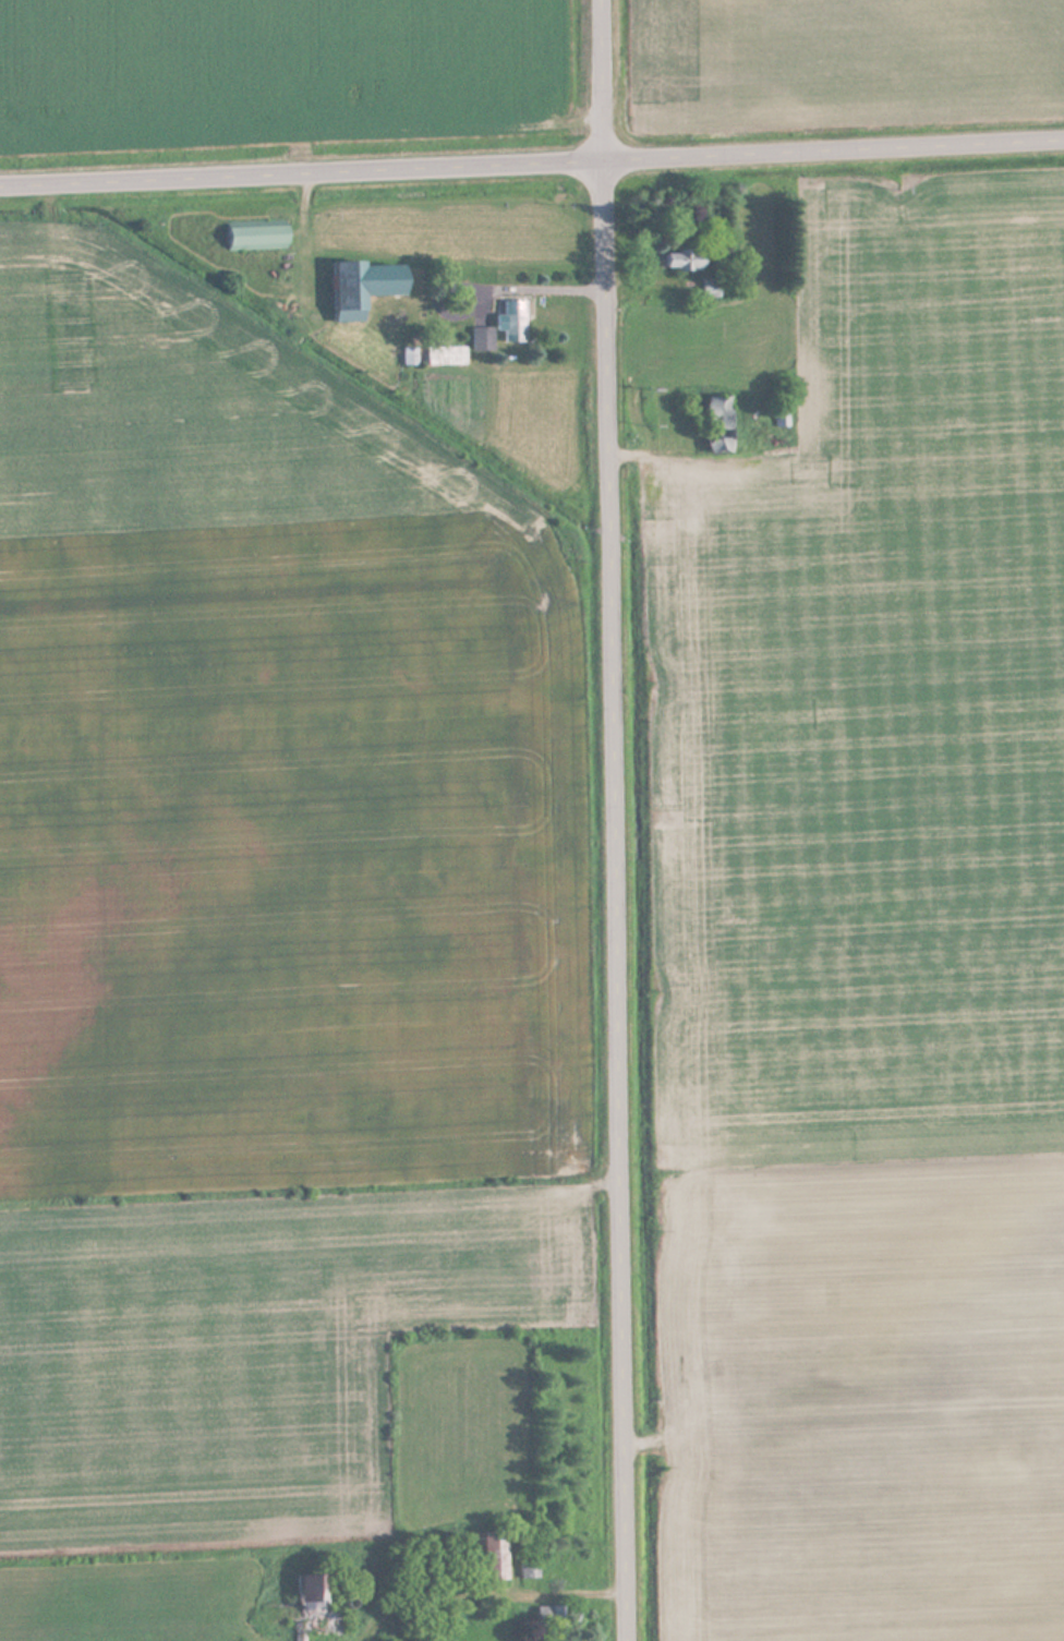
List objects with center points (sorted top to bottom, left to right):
road: (531, 160)
building: (256, 237)
building: (684, 258)
building: (365, 286)
building: (512, 319)
building: (721, 423)
road: (615, 820)
building: (492, 1554)
building: (318, 1603)
building: (549, 1614)

